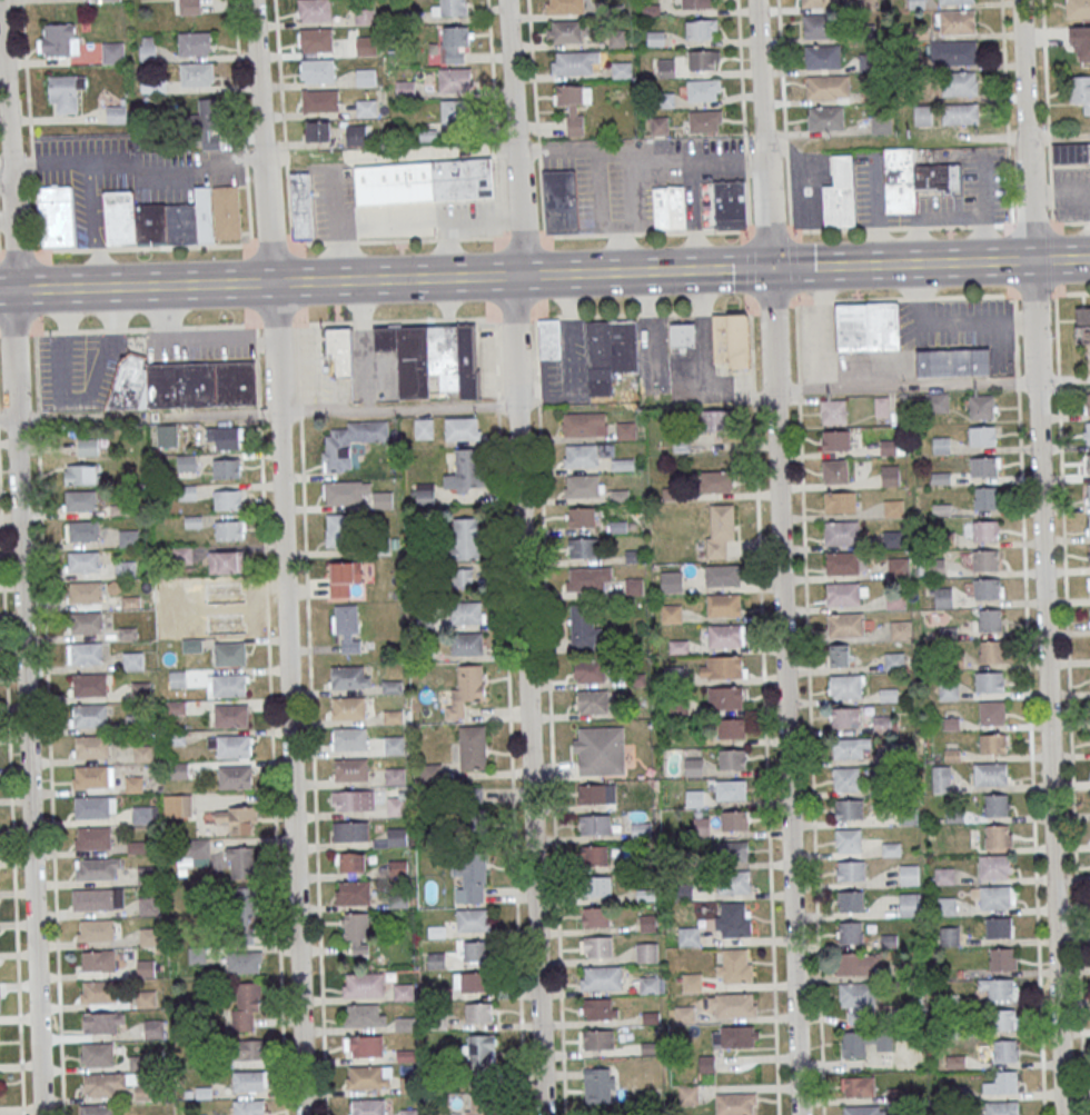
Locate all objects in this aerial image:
building: (954, 1)
building: (697, 3)
building: (819, 3)
building: (915, 3)
building: (190, 7)
building: (564, 7)
building: (450, 8)
building: (1077, 9)
building: (314, 10)
building: (364, 14)
building: (957, 21)
building: (820, 26)
building: (702, 29)
building: (564, 31)
road: (489, 37)
building: (59, 39)
building: (315, 40)
building: (196, 43)
building: (454, 43)
building: (366, 46)
building: (148, 48)
building: (112, 52)
building: (959, 52)
building: (822, 56)
building: (704, 59)
building: (575, 62)
building: (665, 68)
building: (621, 70)
building: (316, 71)
building: (197, 74)
building: (365, 77)
building: (455, 79)
building: (959, 83)
building: (826, 87)
building: (405, 88)
building: (703, 89)
building: (1080, 91)
building: (66, 93)
building: (319, 100)
building: (573, 107)
building: (366, 108)
building: (455, 111)
road: (1047, 111)
building: (961, 112)
road: (1007, 112)
building: (117, 115)
road: (743, 115)
road: (784, 116)
building: (922, 116)
road: (536, 118)
building: (829, 118)
building: (705, 120)
road: (241, 121)
road: (283, 121)
building: (209, 123)
building: (881, 123)
road: (31, 125)
building: (658, 125)
building: (317, 131)
building: (358, 135)
road: (1058, 135)
road: (438, 151)
building: (1070, 152)
road: (137, 171)
parking lot: (127, 175)
parking lot: (641, 176)
building: (913, 178)
building: (463, 179)
road: (6, 180)
building: (840, 193)
parking lot: (1071, 193)
building: (561, 201)
building: (407, 203)
building: (301, 205)
building: (723, 205)
building: (660, 207)
building: (675, 207)
building: (56, 217)
building: (174, 218)
road: (456, 222)
road: (393, 226)
road: (940, 226)
road: (337, 228)
road: (395, 239)
road: (1061, 259)
road: (981, 261)
road: (850, 266)
traffic signals: (770, 268)
road: (704, 270)
road: (319, 281)
road: (545, 316)
building: (1082, 325)
building: (868, 326)
building: (682, 336)
building: (549, 339)
building: (731, 340)
parking lot: (200, 344)
building: (339, 351)
building: (610, 355)
building: (433, 358)
building: (952, 361)
parking lot: (78, 369)
building: (182, 382)
road: (932, 386)
building: (937, 402)
building: (1088, 402)
building: (981, 407)
road: (398, 408)
building: (832, 411)
road: (8, 417)
building: (716, 420)
building: (584, 425)
building: (424, 428)
building: (462, 428)
building: (625, 431)
building: (1088, 432)
building: (167, 435)
building: (982, 436)
building: (225, 437)
building: (835, 440)
building: (88, 447)
building: (888, 447)
building: (334, 451)
building: (585, 455)
building: (187, 462)
building: (1089, 462)
building: (625, 465)
building: (984, 466)
building: (224, 468)
building: (834, 470)
building: (463, 472)
building: (81, 475)
building: (890, 475)
building: (715, 481)
building: (582, 486)
building: (343, 492)
building: (425, 495)
building: (1089, 495)
building: (984, 498)
building: (383, 499)
building: (81, 500)
building: (227, 500)
building: (840, 501)
building: (893, 508)
building: (581, 517)
building: (1089, 524)
building: (230, 530)
building: (336, 530)
building: (984, 530)
building: (83, 531)
building: (720, 531)
building: (841, 532)
building: (128, 537)
building: (466, 538)
building: (892, 538)
building: (582, 548)
building: (185, 555)
building: (1089, 556)
road: (283, 557)
road: (524, 557)
road: (780, 557)
road: (1042, 557)
building: (984, 559)
building: (83, 560)
road: (20, 561)
building: (226, 561)
building: (842, 564)
building: (125, 569)
building: (722, 576)
building: (344, 577)
building: (463, 577)
building: (588, 578)
building: (671, 581)
building: (633, 586)
building: (1088, 586)
building: (987, 588)
building: (86, 591)
building: (845, 594)
building: (943, 597)
building: (723, 606)
building: (219, 608)
building: (467, 613)
building: (671, 614)
building: (989, 620)
building: (87, 621)
building: (845, 625)
building: (347, 627)
building: (582, 627)
building: (724, 637)
building: (467, 644)
building: (990, 651)
building: (87, 653)
building: (230, 655)
building: (839, 656)
building: (133, 659)
building: (893, 659)
building: (722, 668)
building: (588, 673)
building: (349, 677)
building: (989, 681)
building: (89, 684)
building: (229, 685)
building: (846, 687)
building: (140, 689)
building: (466, 689)
building: (948, 691)
building: (724, 698)
building: (592, 701)
road: (1070, 704)
road: (1029, 705)
building: (348, 707)
road: (809, 708)
building: (992, 711)
road: (764, 714)
building: (89, 715)
building: (231, 716)
road: (508, 716)
road: (549, 716)
road: (311, 718)
building: (844, 718)
road: (270, 719)
road: (49, 723)
building: (731, 727)
building: (177, 738)
building: (349, 738)
building: (992, 743)
building: (393, 744)
building: (231, 745)
building: (91, 746)
building: (473, 747)
building: (852, 748)
building: (599, 750)
building: (142, 753)
building: (952, 754)
building: (731, 758)
building: (693, 767)
building: (350, 769)
building: (179, 770)
building: (990, 773)
building: (92, 776)
building: (235, 776)
building: (395, 776)
building: (846, 778)
building: (941, 778)
building: (133, 783)
building: (731, 789)
building: (593, 794)
building: (694, 798)
building: (353, 800)
building: (397, 805)
building: (997, 805)
building: (93, 806)
building: (178, 806)
building: (849, 808)
road: (11, 809)
building: (469, 810)
building: (142, 814)
building: (239, 818)
building: (734, 820)
building: (595, 824)
building: (701, 826)
building: (349, 832)
building: (998, 836)
building: (93, 837)
building: (393, 837)
building: (849, 840)
building: (194, 848)
building: (730, 852)
building: (595, 855)
building: (350, 862)
building: (240, 863)
building: (994, 867)
building: (97, 868)
building: (398, 868)
building: (851, 870)
building: (148, 874)
building: (909, 875)
building: (943, 875)
building: (470, 879)
building: (733, 884)
building: (599, 886)
building: (353, 893)
building: (993, 897)
building: (95, 898)
building: (851, 900)
building: (244, 903)
building: (910, 904)
building: (148, 905)
building: (944, 905)
building: (595, 917)
building: (474, 919)
building: (733, 922)
building: (648, 924)
building: (356, 926)
building: (999, 927)
building: (97, 929)
building: (850, 933)
building: (150, 936)
building: (949, 936)
building: (688, 937)
building: (596, 946)
building: (360, 948)
building: (475, 950)
building: (646, 952)
building: (1002, 959)
building: (99, 960)
building: (436, 960)
building: (244, 962)
building: (859, 964)
building: (147, 967)
building: (735, 967)
building: (601, 977)
building: (469, 982)
building: (692, 983)
building: (363, 985)
building: (650, 985)
building: (1000, 988)
building: (99, 990)
building: (146, 998)
building: (858, 999)
building: (245, 1005)
building: (732, 1006)
building: (599, 1008)
building: (478, 1012)
building: (684, 1015)
building: (364, 1016)
building: (1005, 1019)
building: (101, 1023)
building: (156, 1028)
building: (739, 1036)
building: (598, 1039)
building: (864, 1042)
building: (364, 1046)
building: (249, 1052)
building: (1004, 1052)
building: (97, 1054)
building: (482, 1055)
building: (369, 1076)
building: (249, 1079)
building: (1002, 1084)
building: (598, 1085)
building: (859, 1086)
building: (145, 1092)
building: (688, 1096)
building: (735, 1104)
building: (483, 1106)
building: (249, 1107)
building: (368, 1107)
building: (1001, 1108)
building: (98, 1109)
building: (862, 1111)
building: (409, 1112)

